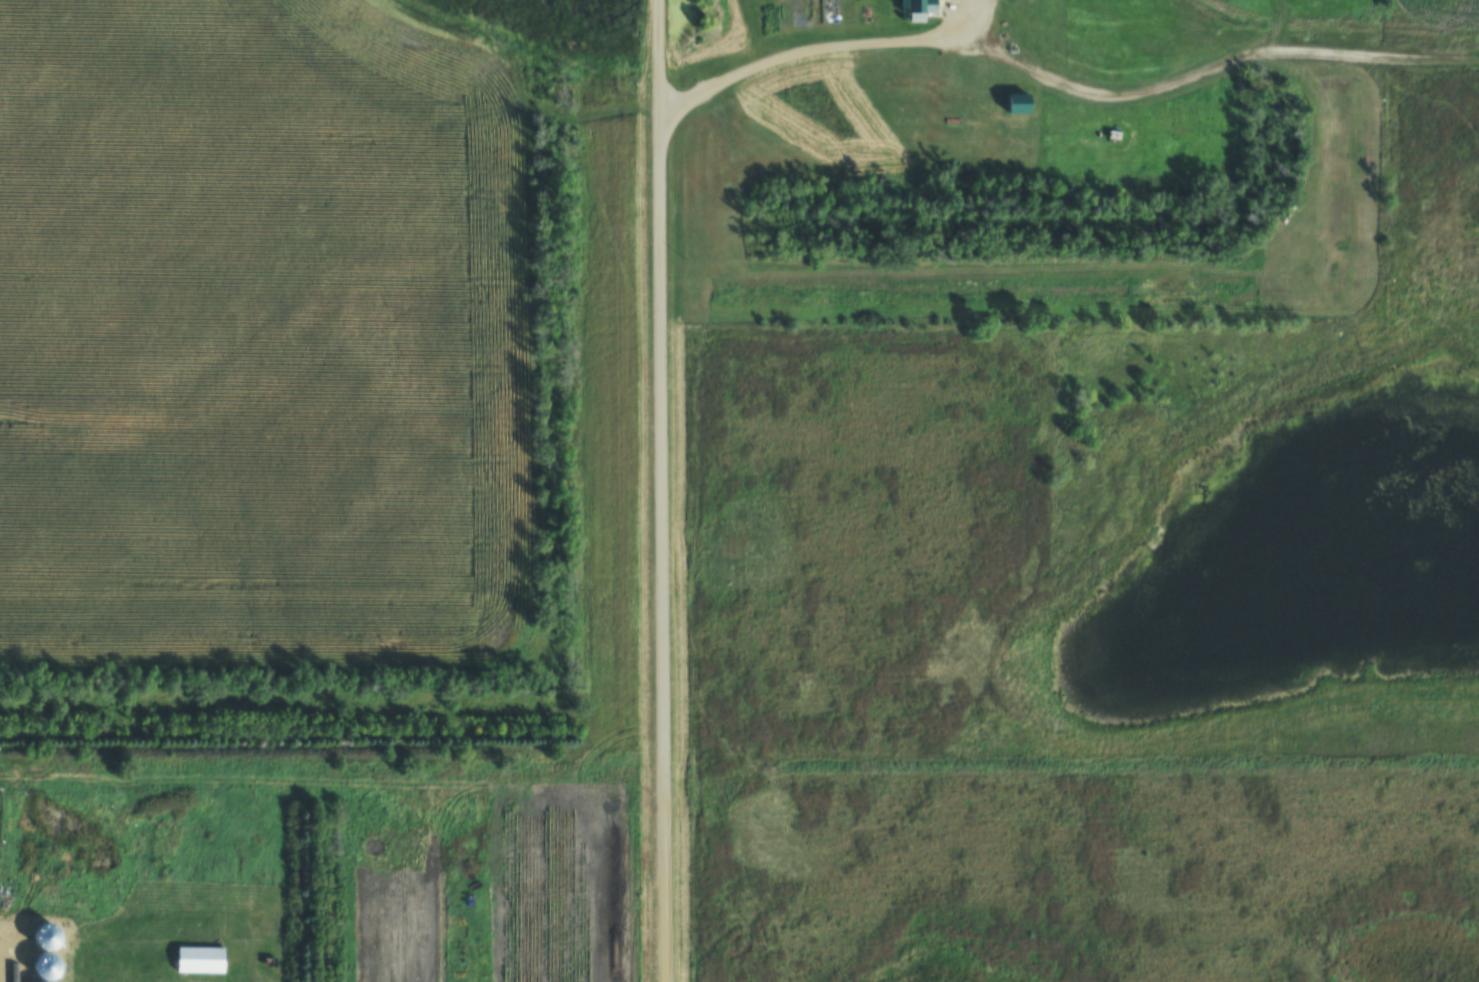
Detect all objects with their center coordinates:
building: (920, 13)
road: (995, 53)
building: (1020, 109)
road: (665, 491)
building: (198, 958)
building: (44, 966)
silo: (44, 966)

